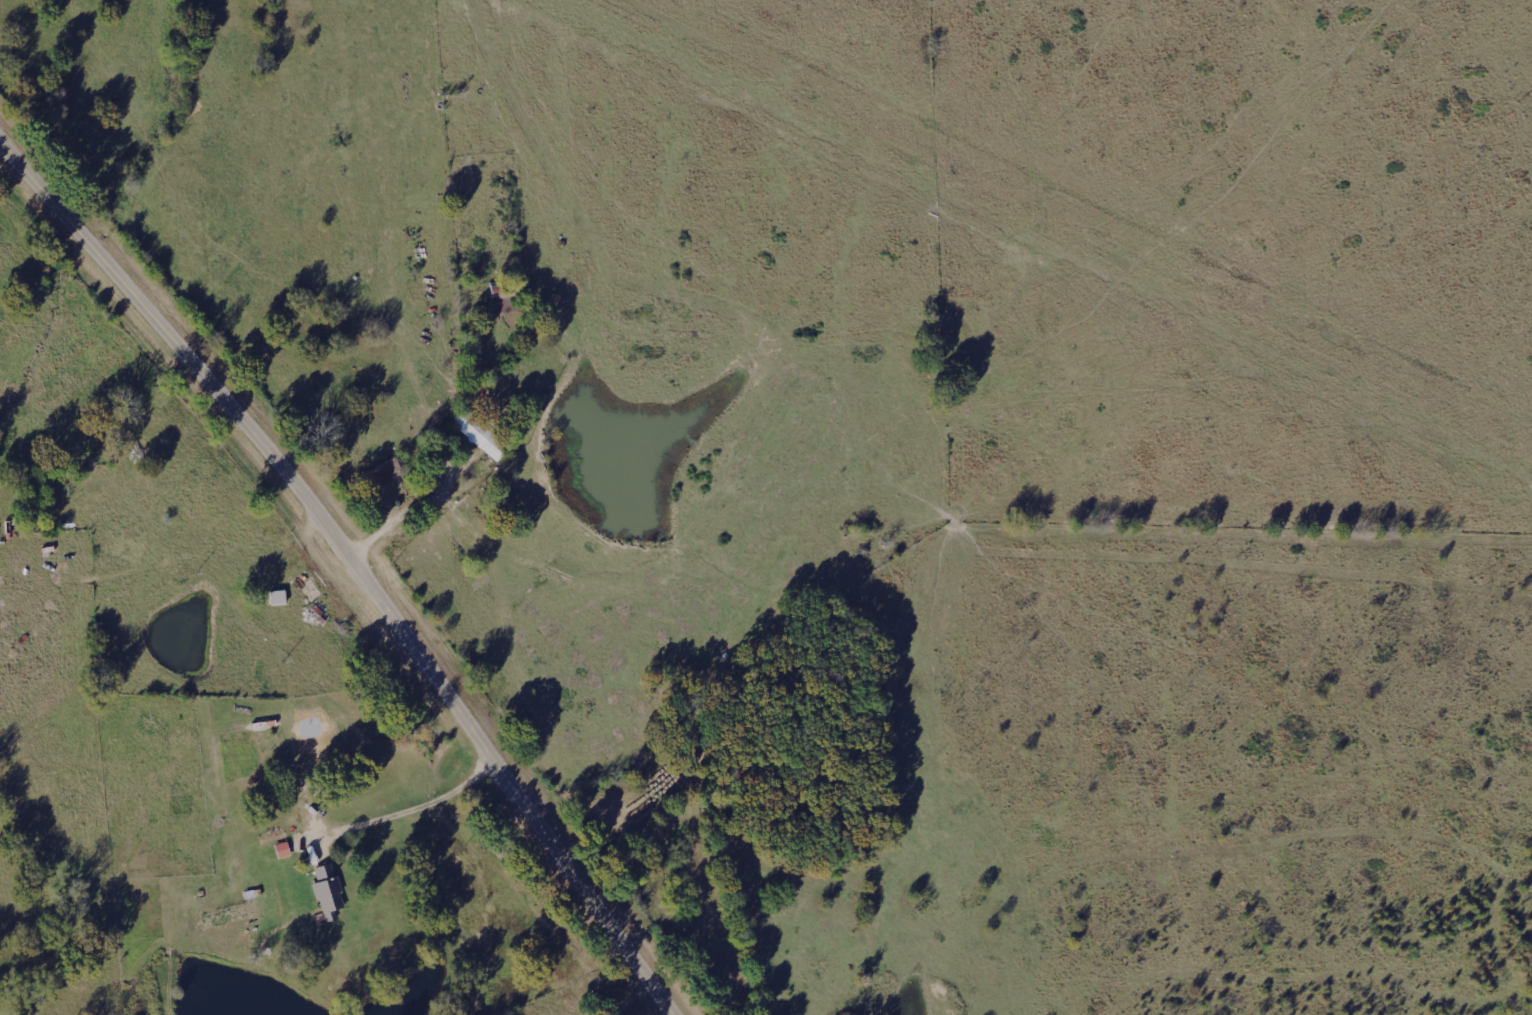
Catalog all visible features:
building: (505, 300)
building: (388, 470)
road: (350, 569)
building: (285, 850)
building: (330, 891)

